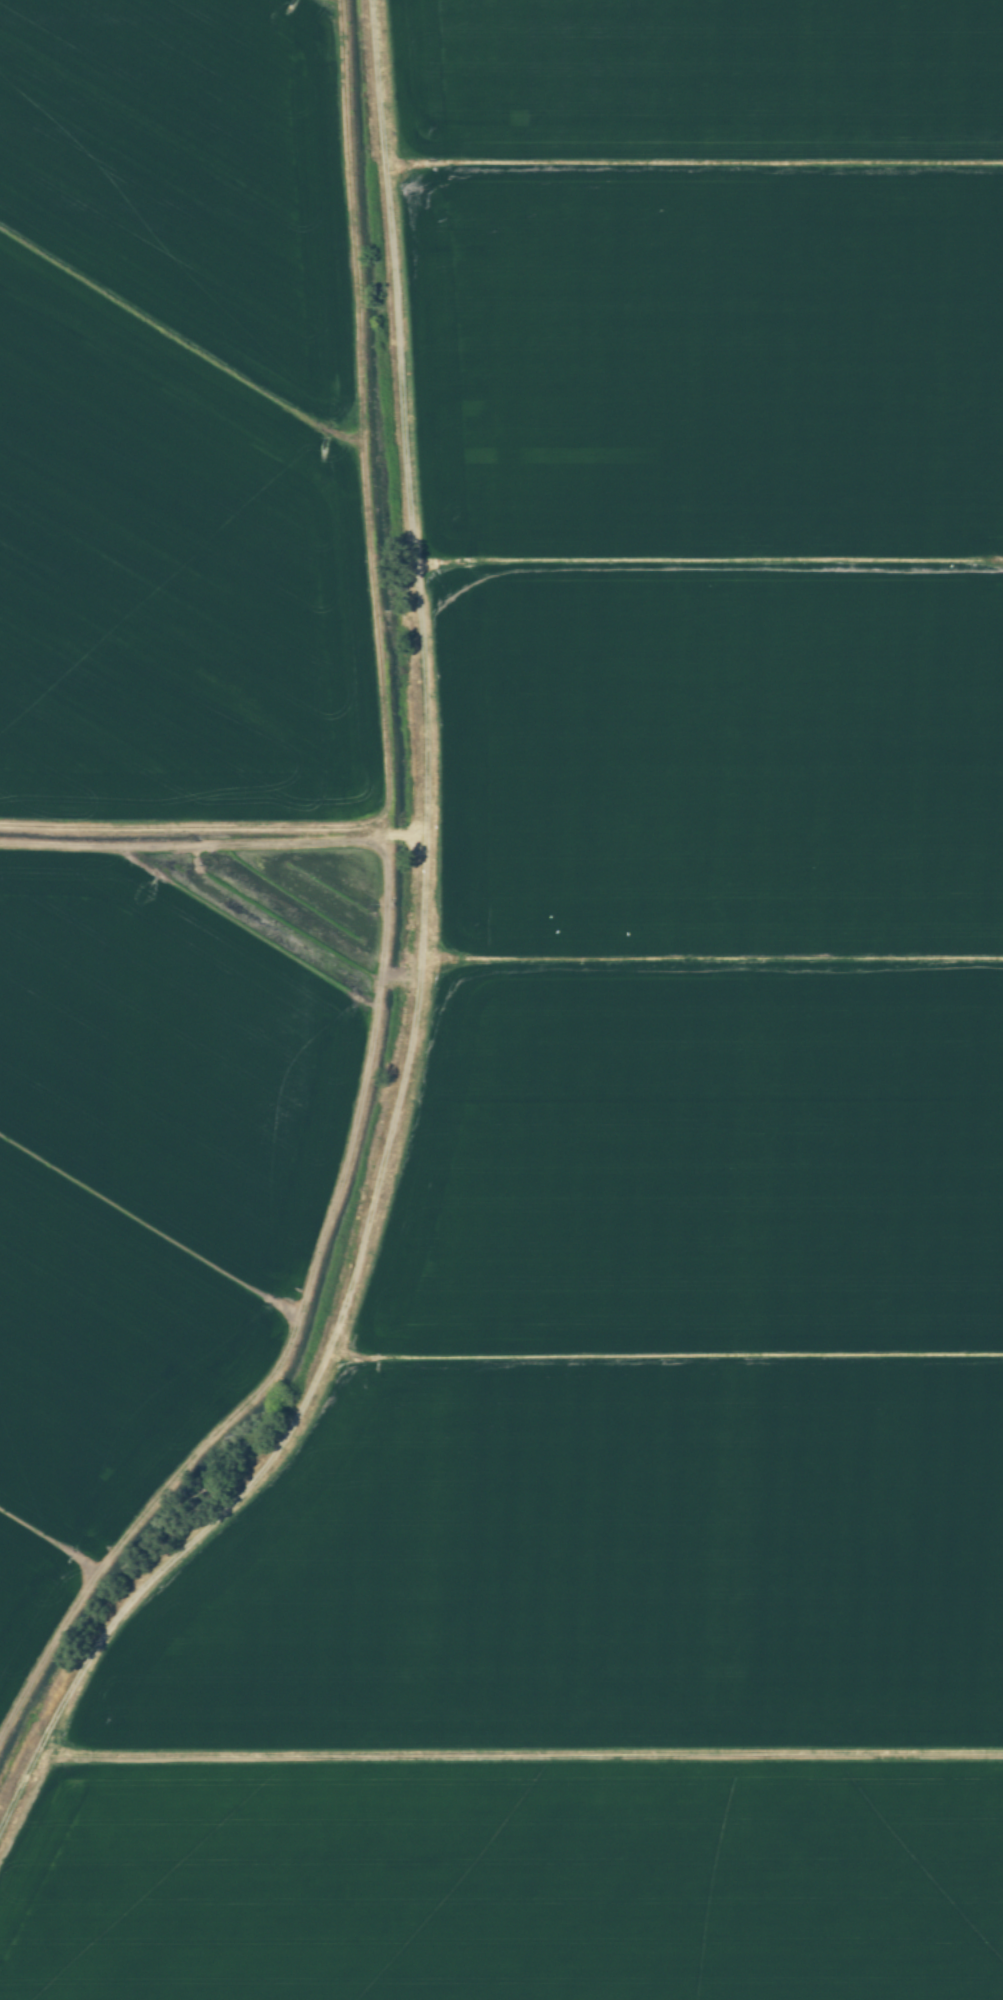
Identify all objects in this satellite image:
road: (467, 986)

